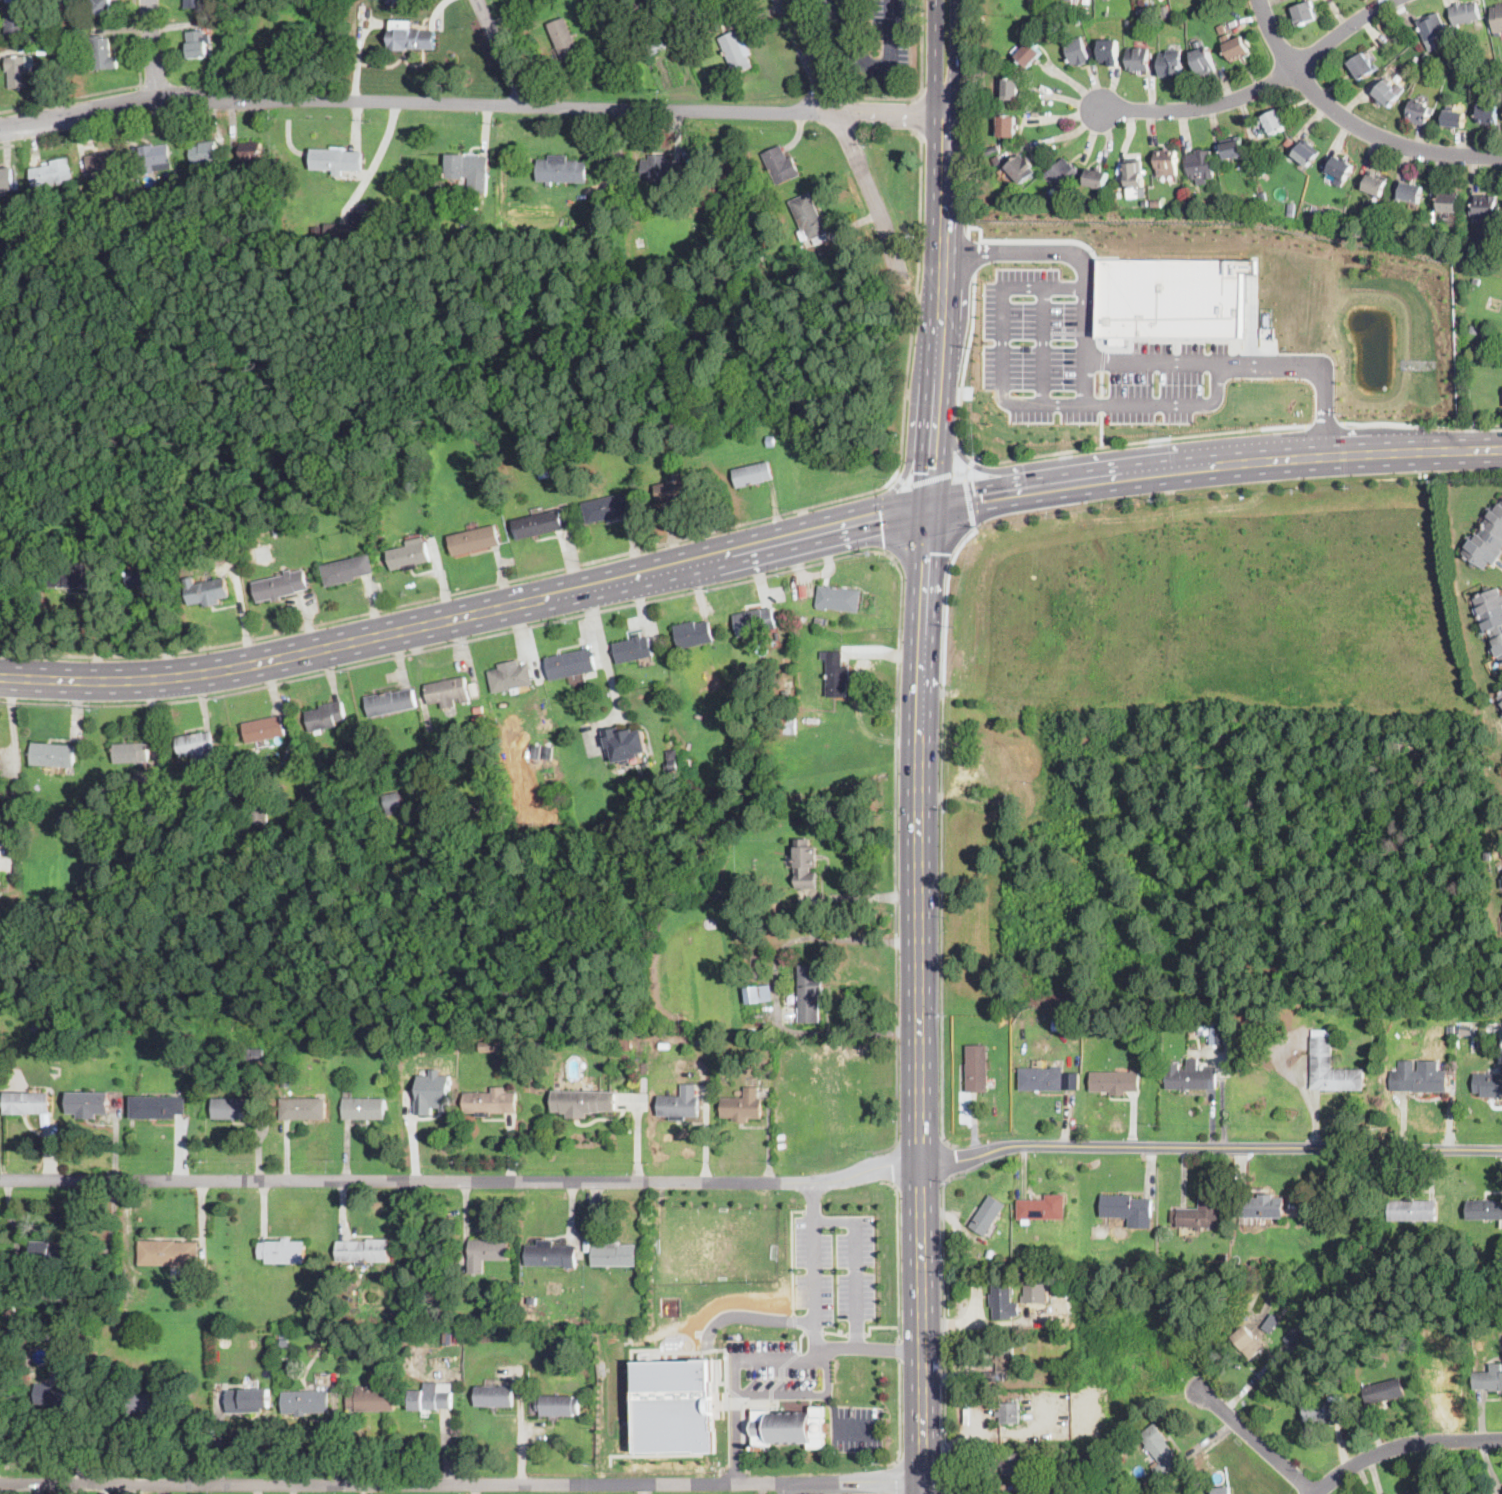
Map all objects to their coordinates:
building: (12, 0)
building: (391, 1)
building: (1032, 1)
building: (379, 2)
building: (195, 3)
building: (102, 7)
building: (1304, 13)
building: (1465, 13)
building: (1203, 14)
building: (236, 18)
building: (1497, 18)
building: (1079, 20)
building: (1129, 22)
building: (16, 25)
building: (1432, 27)
building: (233, 38)
building: (411, 38)
building: (564, 38)
building: (1462, 39)
building: (1235, 43)
building: (197, 44)
building: (656, 44)
parking lot: (850, 44)
building: (43, 49)
road: (150, 50)
building: (1076, 51)
building: (101, 52)
road: (503, 52)
building: (736, 52)
building: (1110, 52)
building: (1426, 53)
building: (1028, 54)
road: (959, 55)
road: (936, 56)
building: (1456, 58)
building: (1138, 59)
building: (1202, 59)
building: (983, 62)
building: (1171, 63)
road: (875, 65)
building: (1362, 66)
building: (1430, 66)
building: (17, 71)
building: (1483, 71)
road: (921, 87)
building: (1011, 88)
road: (112, 90)
road: (1257, 90)
building: (1386, 94)
road: (466, 104)
road: (947, 111)
building: (1419, 112)
building: (1488, 114)
road: (921, 115)
road: (972, 117)
building: (1454, 118)
building: (1275, 122)
road: (1351, 122)
building: (1007, 126)
road: (847, 134)
road: (7, 145)
building: (1233, 147)
building: (250, 150)
building: (991, 150)
building: (204, 151)
building: (1306, 153)
building: (153, 156)
building: (336, 160)
building: (102, 161)
building: (997, 161)
building: (1167, 162)
building: (1256, 162)
building: (781, 165)
building: (1200, 166)
building: (392, 168)
building: (1021, 168)
building: (562, 169)
building: (469, 170)
building: (1340, 170)
building: (661, 171)
building: (51, 172)
building: (1062, 173)
building: (1135, 173)
building: (1096, 176)
building: (6, 179)
building: (1375, 182)
building: (169, 183)
building: (1410, 193)
building: (121, 198)
building: (1145, 201)
building: (1253, 201)
building: (1056, 203)
building: (1156, 203)
building: (1196, 203)
building: (1449, 203)
building: (1484, 206)
building: (1290, 213)
building: (1321, 213)
building: (809, 219)
building: (359, 227)
building: (336, 231)
building: (592, 231)
building: (639, 246)
building: (755, 246)
road: (968, 250)
road: (1024, 251)
building: (1476, 279)
building: (1171, 296)
road: (916, 299)
road: (954, 307)
road: (931, 311)
building: (1474, 328)
road: (1043, 345)
road: (1087, 345)
road: (1000, 350)
road: (1158, 362)
road: (1317, 368)
building: (771, 390)
road: (1181, 404)
road: (1326, 423)
road: (1421, 425)
building: (603, 433)
building: (529, 435)
building: (770, 441)
building: (427, 444)
building: (529, 450)
road: (1415, 450)
road: (1044, 454)
traffic signals: (923, 456)
road: (971, 461)
road: (980, 468)
building: (544, 471)
road: (1134, 471)
building: (489, 472)
building: (752, 473)
road: (962, 473)
road: (902, 474)
road: (910, 475)
road: (932, 475)
road: (904, 476)
building: (677, 490)
traffic signals: (982, 495)
road: (967, 501)
road: (931, 507)
building: (606, 508)
road: (895, 515)
road: (889, 517)
traffic signals: (881, 519)
building: (538, 524)
building: (276, 526)
building: (287, 526)
building: (474, 540)
building: (1486, 540)
road: (923, 552)
traffic signals: (939, 552)
building: (408, 555)
road: (728, 555)
building: (347, 570)
building: (76, 578)
building: (147, 578)
building: (280, 585)
building: (206, 591)
road: (454, 591)
building: (1469, 593)
building: (838, 598)
building: (1491, 618)
building: (755, 621)
building: (693, 634)
road: (449, 642)
building: (633, 649)
road: (602, 652)
road: (296, 655)
building: (570, 664)
building: (836, 675)
building: (510, 677)
building: (447, 692)
building: (1499, 698)
building: (390, 702)
building: (478, 709)
building: (324, 716)
building: (560, 717)
building: (783, 727)
building: (730, 728)
building: (263, 729)
building: (375, 737)
building: (368, 740)
building: (624, 744)
building: (197, 746)
building: (130, 752)
building: (536, 752)
building: (548, 753)
building: (52, 754)
building: (488, 759)
building: (674, 768)
building: (552, 769)
road: (15, 770)
building: (179, 795)
building: (393, 802)
building: (156, 803)
building: (477, 810)
building: (259, 815)
building: (65, 819)
building: (411, 820)
building: (120, 821)
road: (942, 831)
road: (897, 861)
building: (806, 864)
building: (1500, 883)
building: (809, 992)
building: (758, 994)
road: (930, 998)
road: (910, 1001)
building: (1002, 1019)
building: (1061, 1025)
building: (1452, 1028)
building: (1193, 1033)
building: (1220, 1034)
building: (592, 1042)
building: (514, 1045)
building: (492, 1047)
building: (253, 1054)
building: (532, 1067)
building: (1331, 1067)
building: (977, 1069)
building: (1422, 1077)
building: (1191, 1078)
building: (1041, 1079)
building: (1114, 1082)
building: (1489, 1082)
building: (286, 1083)
building: (433, 1091)
building: (583, 1101)
building: (491, 1102)
building: (27, 1103)
building: (88, 1103)
building: (674, 1103)
building: (744, 1104)
building: (157, 1107)
building: (239, 1107)
building: (304, 1108)
building: (364, 1108)
road: (1205, 1147)
road: (948, 1161)
road: (893, 1166)
road: (456, 1180)
road: (812, 1202)
building: (1261, 1206)
building: (1043, 1208)
building: (1128, 1209)
building: (1413, 1210)
building: (1484, 1210)
building: (1200, 1214)
building: (987, 1215)
building: (282, 1251)
building: (364, 1251)
building: (486, 1252)
building: (169, 1253)
building: (990, 1253)
building: (58, 1254)
building: (551, 1254)
building: (615, 1255)
road: (899, 1255)
building: (1061, 1258)
building: (1143, 1268)
road: (814, 1269)
building: (1038, 1292)
building: (1277, 1297)
building: (531, 1301)
building: (1003, 1302)
building: (550, 1304)
building: (577, 1306)
building: (10, 1314)
road: (989, 1321)
building: (1271, 1324)
road: (946, 1325)
road: (878, 1326)
building: (1292, 1332)
building: (447, 1337)
building: (458, 1338)
building: (49, 1341)
building: (66, 1341)
building: (282, 1342)
building: (1248, 1342)
road: (838, 1347)
road: (895, 1352)
road: (900, 1353)
building: (37, 1354)
building: (1002, 1364)
building: (290, 1374)
building: (1487, 1380)
building: (56, 1391)
building: (1383, 1392)
building: (494, 1396)
road: (782, 1396)
building: (430, 1397)
building: (184, 1398)
building: (371, 1399)
building: (248, 1400)
building: (305, 1401)
building: (141, 1405)
building: (558, 1405)
building: (675, 1405)
road: (833, 1407)
building: (1323, 1409)
building: (1008, 1413)
road: (900, 1417)
building: (789, 1427)
road: (519, 1432)
road: (82, 1436)
road: (220, 1436)
road: (1255, 1440)
road: (735, 1442)
road: (1401, 1445)
building: (1159, 1450)
building: (1011, 1463)
road: (897, 1477)
road: (467, 1483)
road: (643, 1488)
road: (799, 1488)
building: (1030, 1490)
building: (1221, 1490)
building: (1418, 1493)

